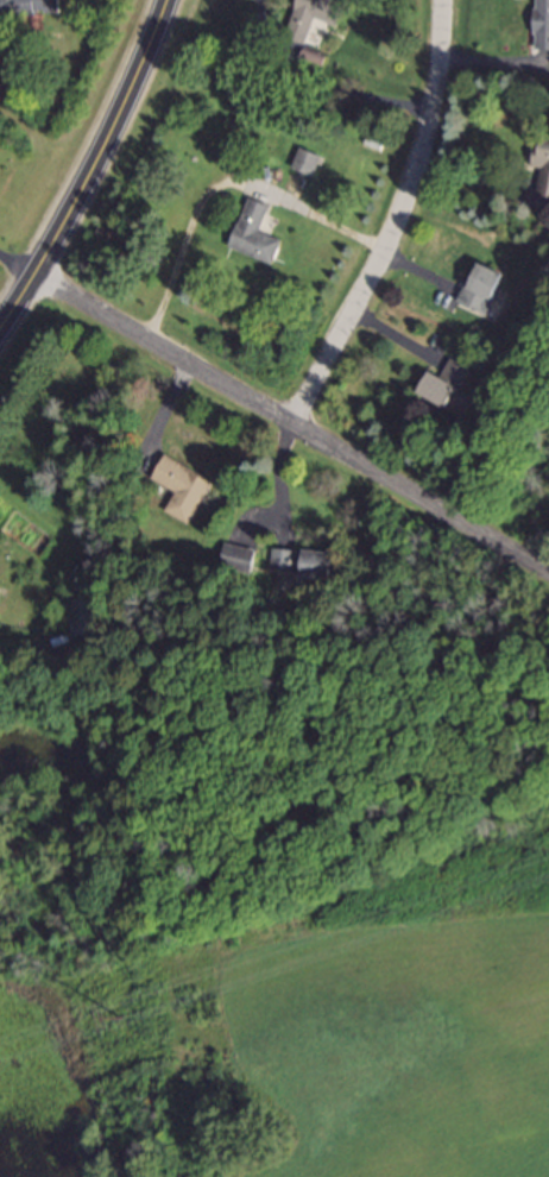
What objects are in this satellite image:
building: (30, 10)
building: (313, 21)
building: (544, 27)
road: (321, 88)
building: (545, 163)
building: (308, 164)
road: (93, 165)
road: (474, 178)
road: (221, 184)
road: (391, 215)
building: (255, 235)
road: (18, 262)
building: (485, 291)
building: (453, 391)
road: (295, 417)
road: (279, 478)
building: (183, 491)
building: (239, 559)
building: (305, 562)
power tower: (120, 1020)

